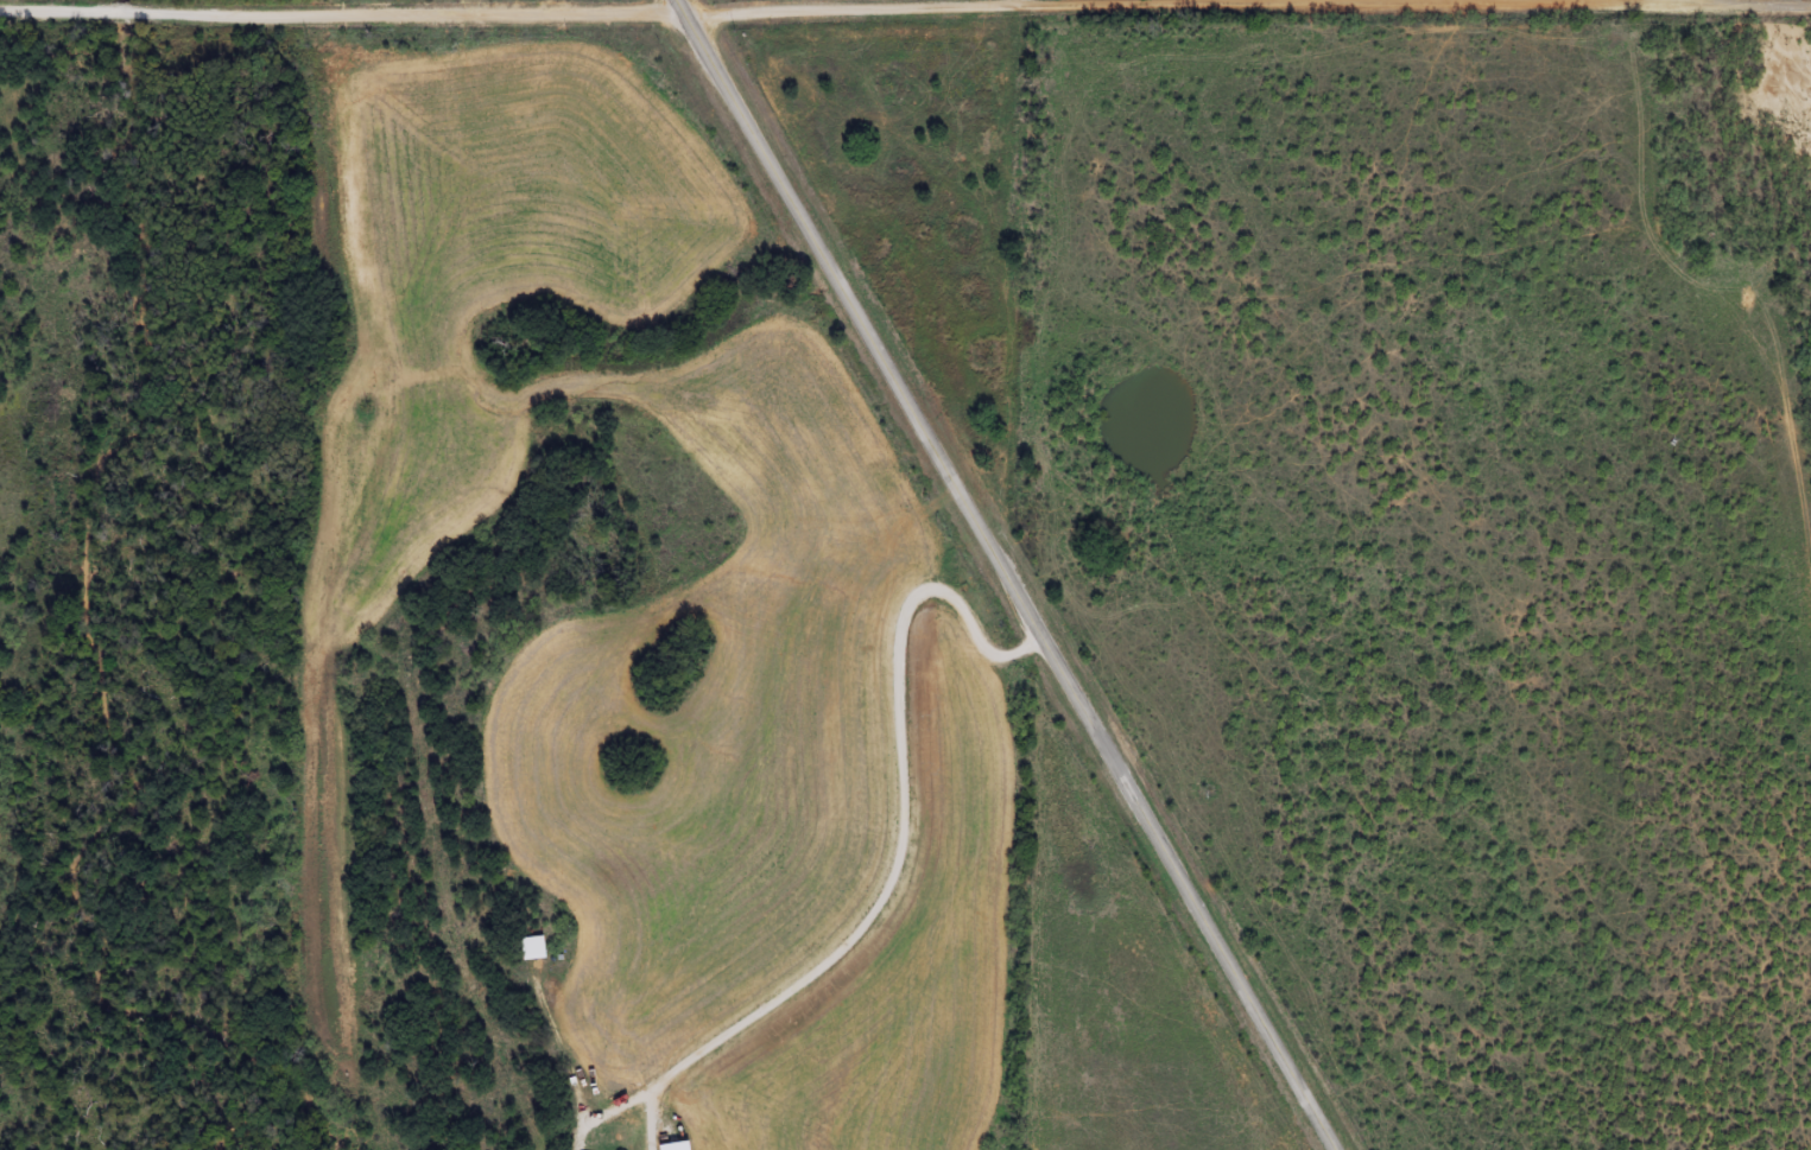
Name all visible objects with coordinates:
road: (904, 6)
road: (1008, 574)
road: (816, 822)
building: (530, 947)

